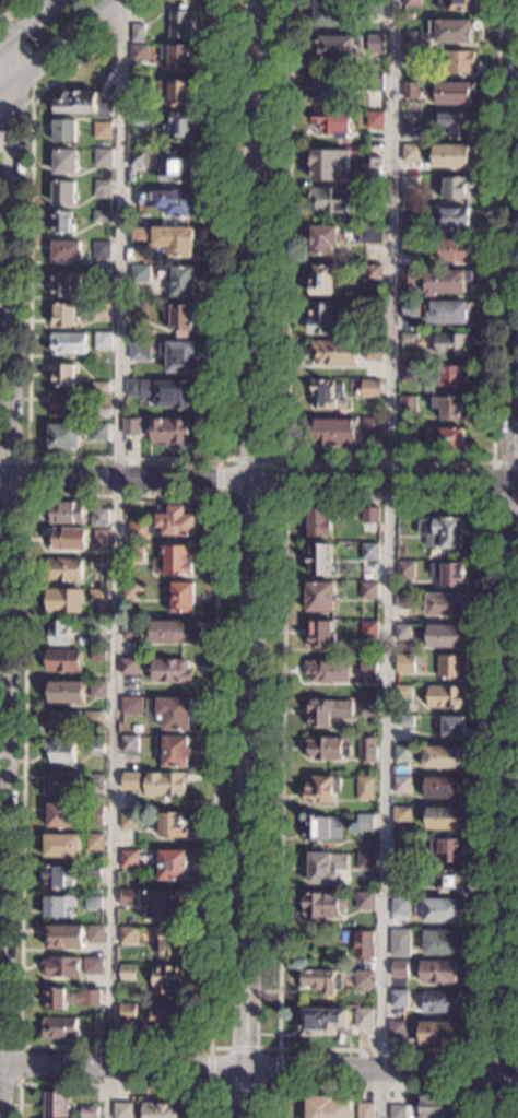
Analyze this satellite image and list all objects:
building: (411, 3)
building: (456, 4)
road: (9, 7)
building: (374, 7)
building: (328, 12)
road: (28, 23)
building: (181, 23)
building: (455, 31)
building: (138, 33)
building: (412, 40)
building: (376, 44)
road: (54, 45)
building: (337, 47)
building: (140, 54)
building: (181, 57)
building: (413, 58)
building: (461, 62)
building: (134, 71)
road: (28, 74)
building: (373, 82)
building: (139, 86)
building: (327, 87)
building: (176, 91)
building: (412, 91)
building: (450, 92)
building: (83, 104)
building: (375, 119)
building: (140, 120)
building: (333, 122)
building: (458, 123)
building: (181, 125)
building: (410, 126)
building: (64, 130)
building: (103, 131)
building: (411, 153)
building: (454, 155)
building: (103, 157)
building: (139, 158)
building: (64, 161)
building: (331, 166)
building: (177, 167)
building: (373, 172)
building: (410, 185)
building: (456, 188)
building: (103, 190)
building: (63, 192)
building: (335, 200)
building: (169, 201)
building: (373, 215)
building: (103, 217)
building: (455, 217)
building: (408, 220)
building: (62, 222)
building: (369, 235)
building: (164, 239)
building: (322, 239)
road: (30, 246)
building: (410, 246)
building: (66, 250)
building: (102, 250)
building: (454, 250)
building: (140, 273)
building: (373, 273)
building: (102, 278)
road: (219, 278)
building: (323, 280)
building: (180, 281)
building: (410, 281)
building: (446, 281)
building: (62, 284)
building: (411, 309)
building: (101, 310)
building: (138, 311)
building: (447, 311)
building: (373, 313)
building: (67, 314)
building: (180, 317)
building: (326, 318)
building: (408, 338)
building: (102, 341)
building: (68, 343)
building: (451, 343)
building: (139, 351)
building: (372, 351)
building: (333, 353)
building: (178, 356)
building: (410, 373)
building: (63, 375)
building: (452, 376)
building: (99, 387)
building: (133, 388)
building: (370, 388)
building: (175, 393)
building: (327, 395)
building: (408, 404)
building: (67, 405)
building: (449, 408)
building: (99, 413)
building: (131, 426)
building: (370, 427)
building: (98, 432)
building: (172, 432)
building: (333, 432)
building: (63, 436)
building: (446, 439)
road: (390, 460)
road: (27, 474)
road: (259, 475)
road: (491, 482)
road: (283, 497)
road: (9, 508)
building: (66, 513)
building: (369, 515)
building: (99, 518)
building: (319, 521)
building: (164, 523)
building: (440, 532)
building: (99, 537)
building: (68, 538)
building: (368, 551)
building: (134, 553)
road: (117, 556)
road: (252, 558)
road: (388, 558)
building: (177, 560)
building: (320, 560)
building: (98, 562)
road: (511, 564)
building: (63, 568)
building: (405, 569)
building: (450, 574)
building: (131, 590)
building: (368, 590)
building: (97, 596)
building: (319, 597)
building: (181, 598)
building: (404, 599)
building: (63, 601)
building: (446, 603)
building: (97, 624)
building: (368, 629)
building: (131, 631)
building: (170, 632)
building: (402, 632)
building: (58, 633)
building: (322, 634)
building: (447, 635)
building: (96, 656)
building: (62, 660)
building: (404, 663)
building: (129, 667)
building: (451, 667)
building: (368, 670)
building: (170, 671)
building: (327, 671)
building: (98, 690)
building: (403, 690)
building: (68, 692)
building: (446, 696)
building: (131, 706)
building: (367, 707)
building: (328, 711)
building: (175, 713)
building: (94, 717)
building: (404, 721)
building: (60, 723)
building: (454, 727)
building: (130, 743)
building: (328, 746)
building: (96, 748)
building: (367, 750)
building: (173, 751)
building: (60, 752)
building: (402, 753)
building: (442, 757)
building: (95, 779)
building: (130, 780)
building: (63, 782)
building: (402, 785)
building: (166, 786)
building: (443, 787)
building: (365, 788)
building: (321, 789)
building: (93, 813)
building: (61, 815)
building: (401, 815)
building: (444, 817)
building: (129, 820)
building: (363, 822)
building: (173, 825)
building: (323, 828)
building: (95, 842)
building: (61, 846)
building: (401, 846)
building: (446, 849)
building: (130, 859)
building: (365, 860)
building: (173, 866)
building: (323, 867)
building: (93, 871)
building: (58, 876)
building: (401, 876)
building: (450, 881)
building: (129, 897)
building: (163, 902)
building: (365, 902)
building: (93, 903)
building: (323, 905)
building: (57, 906)
building: (400, 906)
building: (443, 910)
building: (95, 933)
building: (128, 934)
building: (64, 938)
building: (170, 941)
building: (400, 942)
building: (444, 942)
building: (364, 944)
building: (93, 966)
building: (61, 967)
building: (400, 968)
building: (440, 972)
building: (127, 973)
building: (168, 979)
building: (365, 979)
building: (323, 981)
building: (70, 998)
building: (399, 998)
building: (440, 1002)
building: (127, 1013)
building: (364, 1017)
building: (166, 1019)
building: (323, 1021)
building: (96, 1025)
building: (59, 1028)
building: (397, 1028)
building: (438, 1033)
road: (278, 1048)
road: (207, 1049)
road: (19, 1066)
road: (259, 1069)
road: (484, 1071)
road: (111, 1086)
road: (276, 1088)
road: (379, 1088)
road: (502, 1096)
building: (56, 1105)
building: (327, 1107)
building: (438, 1107)
building: (122, 1110)
building: (162, 1110)
building: (365, 1110)
building: (90, 1111)
building: (397, 1111)

